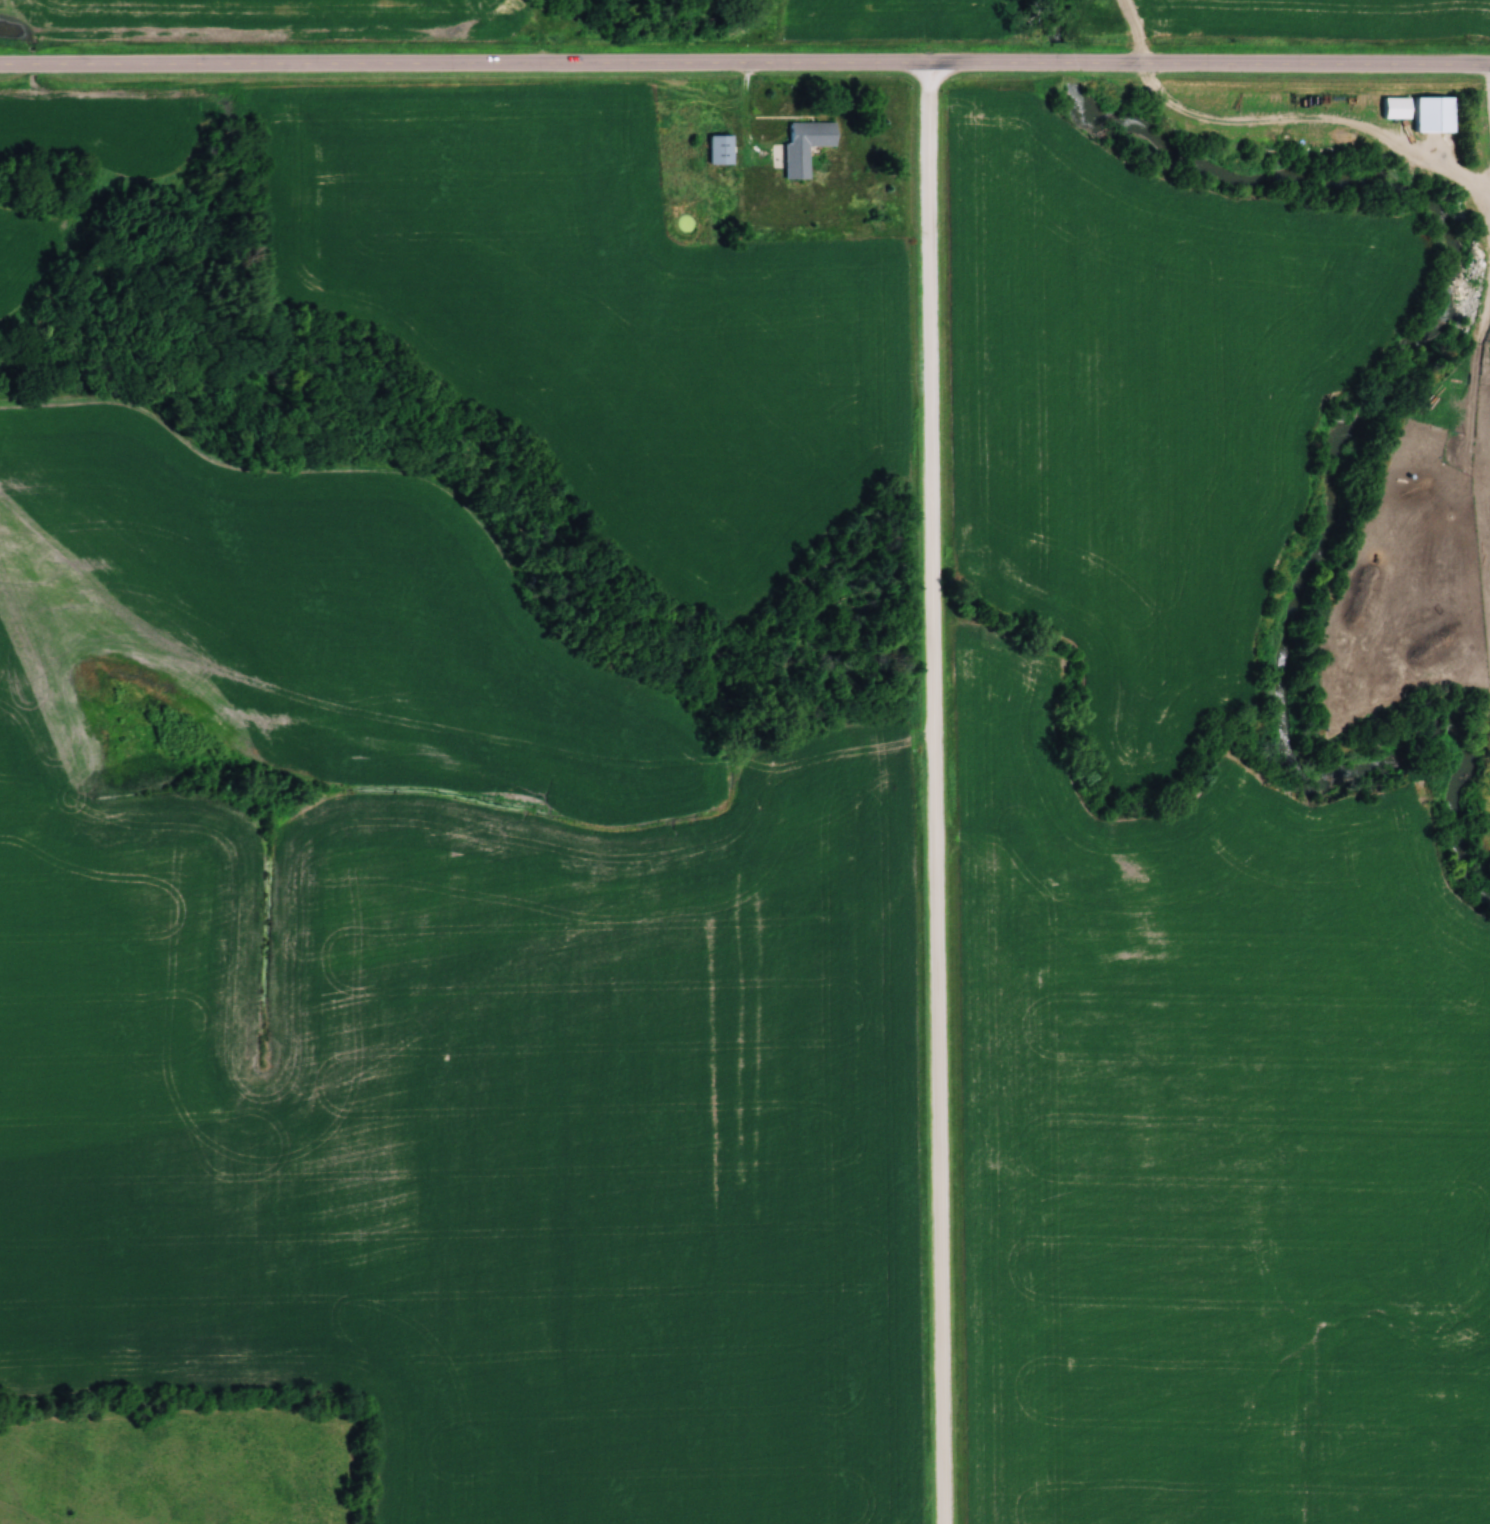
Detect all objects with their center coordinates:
river: (1061, 23)
road: (745, 62)
river: (1067, 67)
building: (1396, 108)
building: (1434, 114)
road: (746, 117)
building: (805, 144)
building: (720, 149)
building: (1442, 445)
river: (1343, 453)
road: (933, 793)

